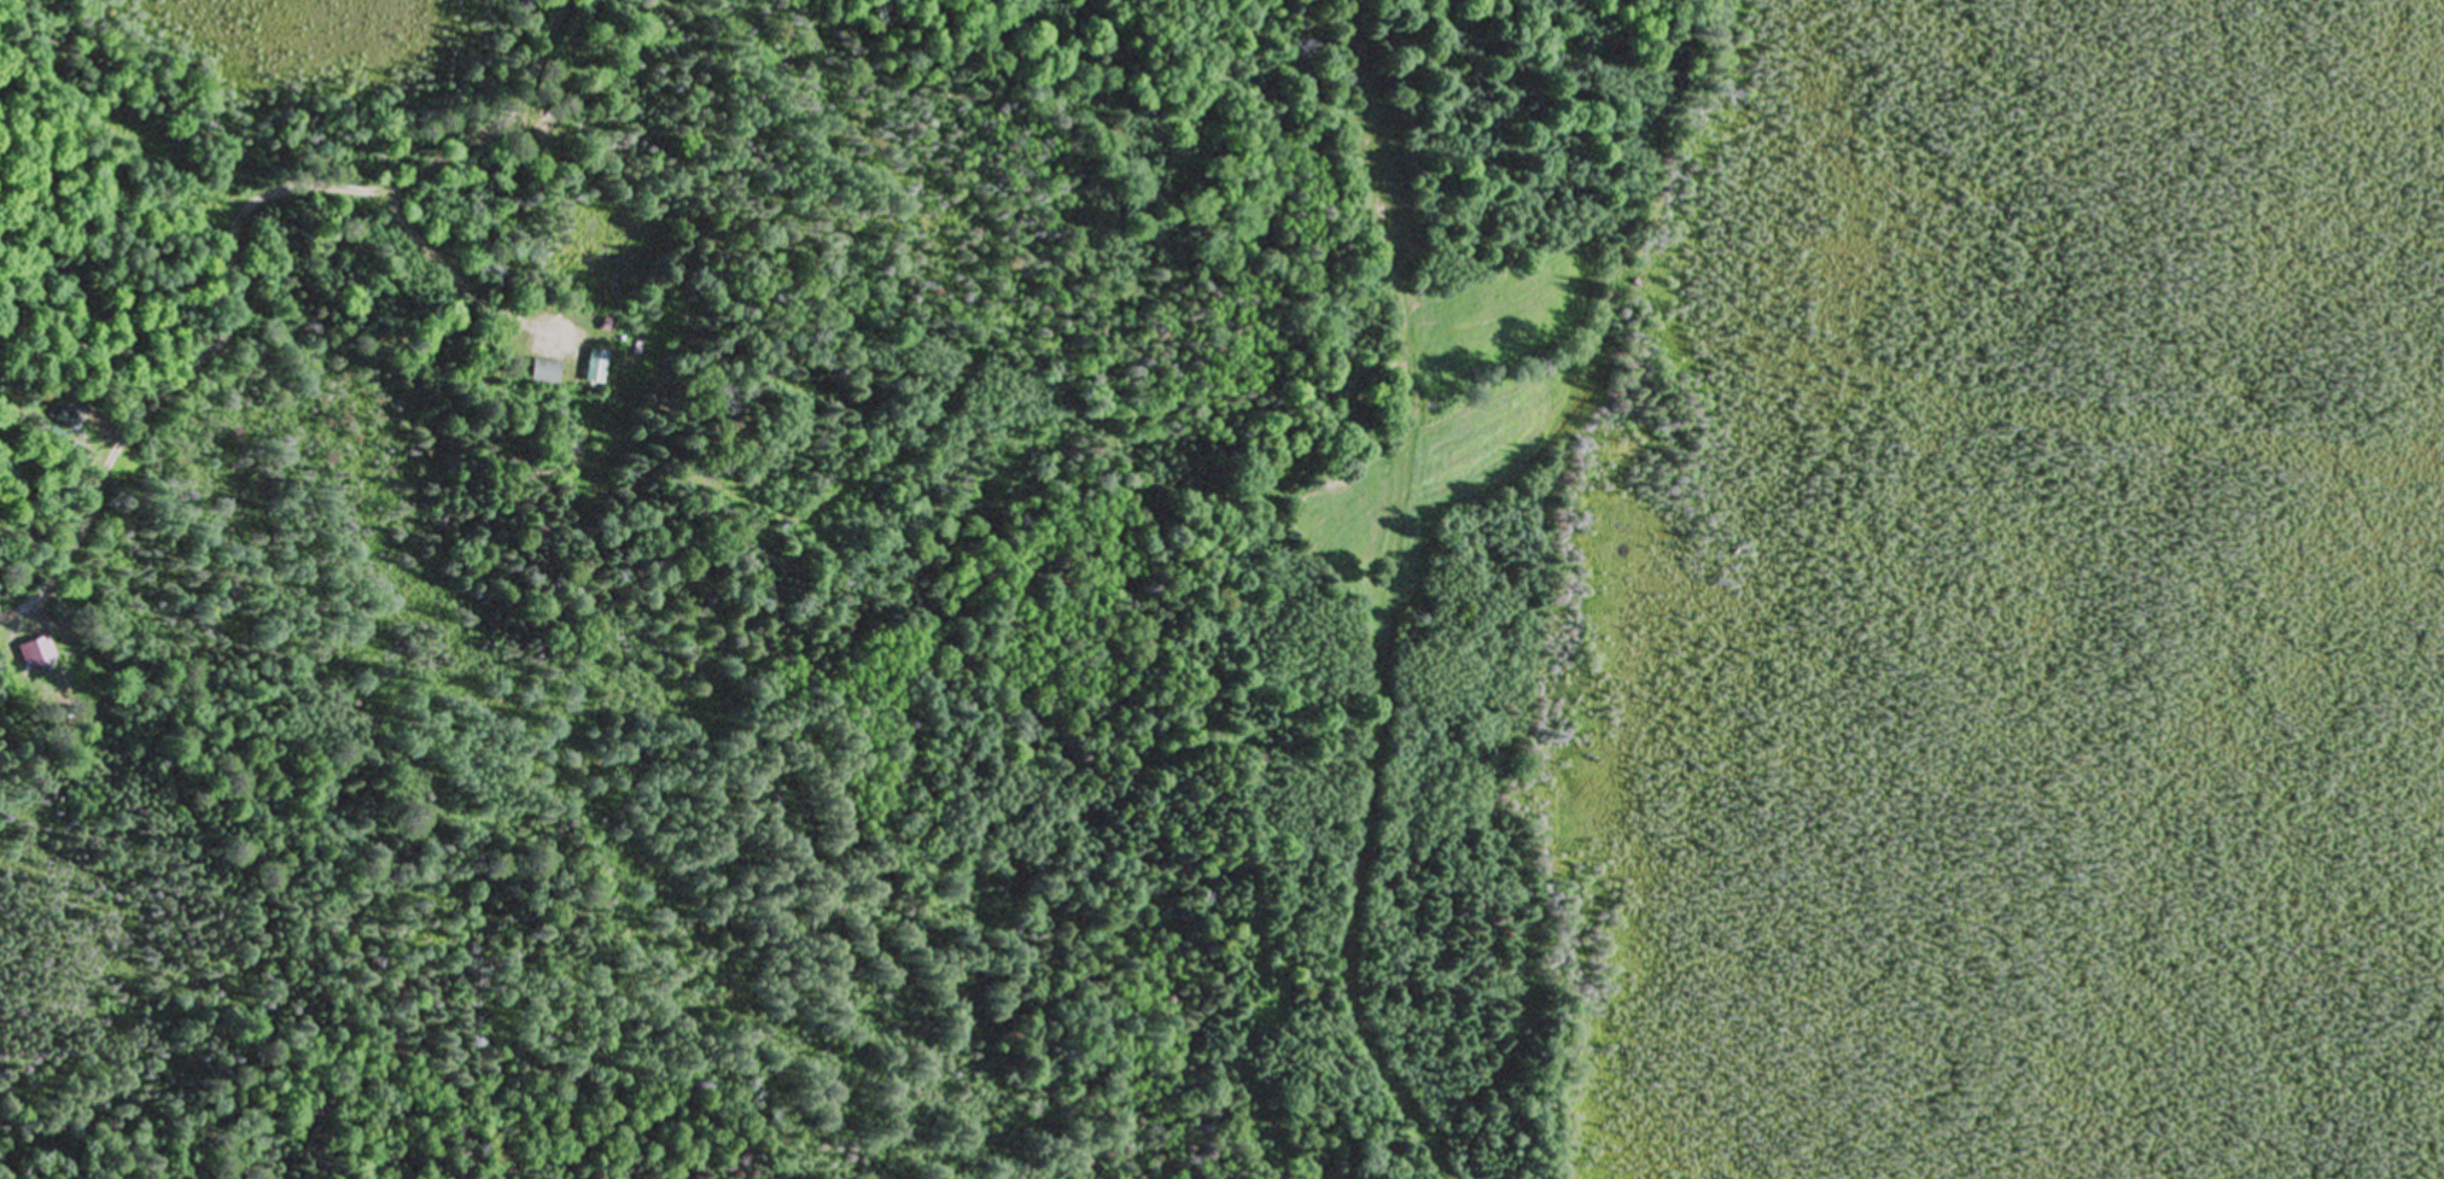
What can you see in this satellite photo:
road: (338, 288)
building: (590, 368)
building: (536, 372)
building: (68, 419)
road: (1399, 607)
building: (35, 653)

